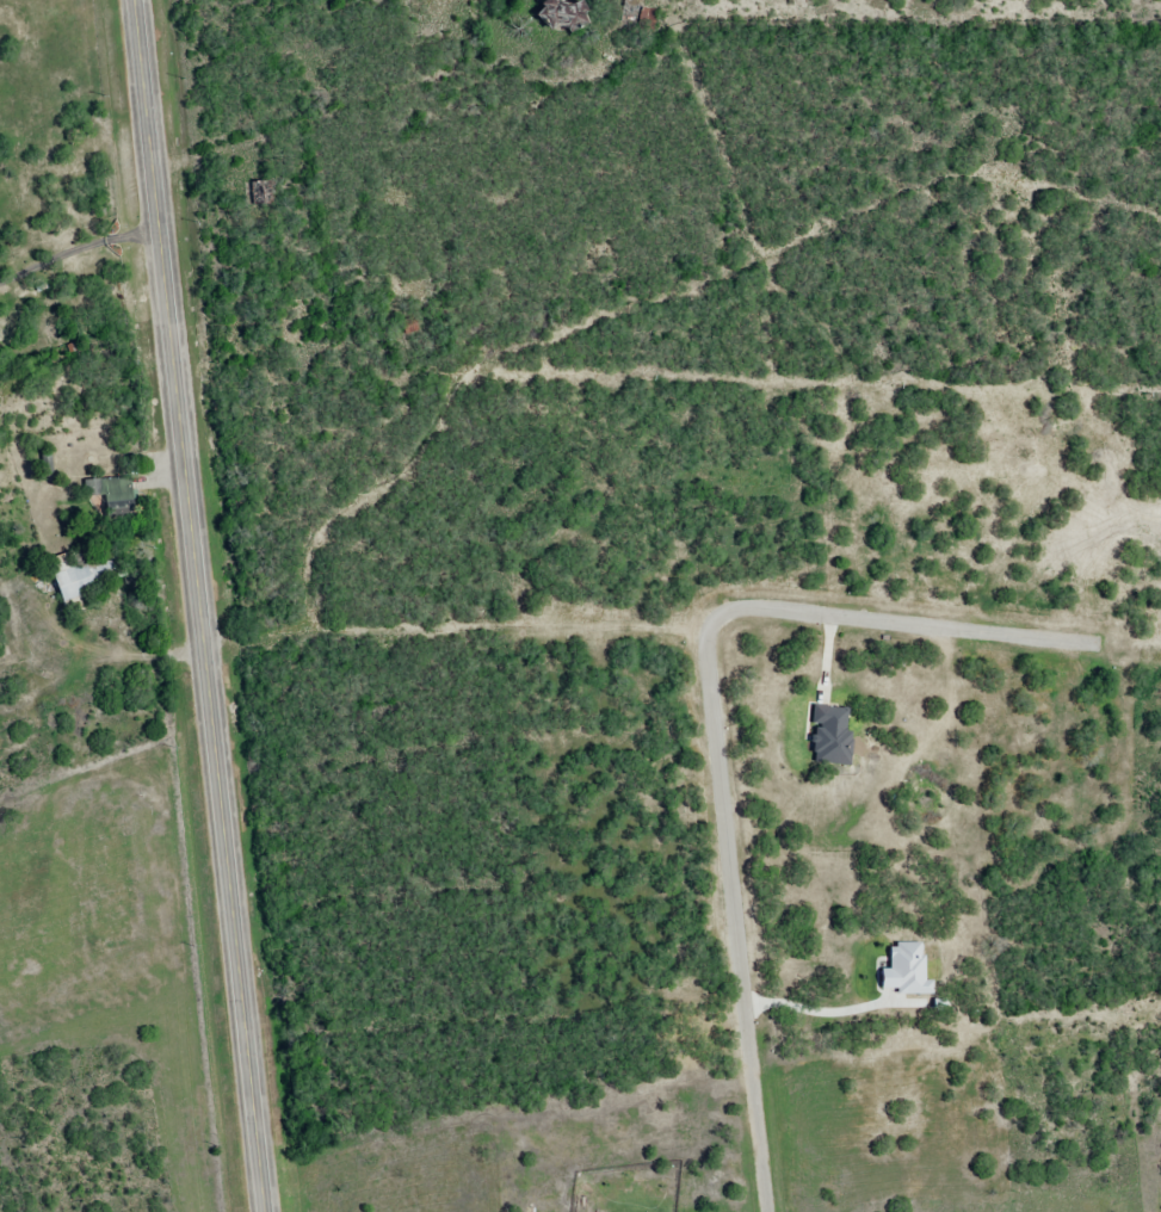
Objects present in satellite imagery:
road: (261, 57)
road: (74, 254)
road: (610, 285)
road: (163, 323)
road: (233, 929)

